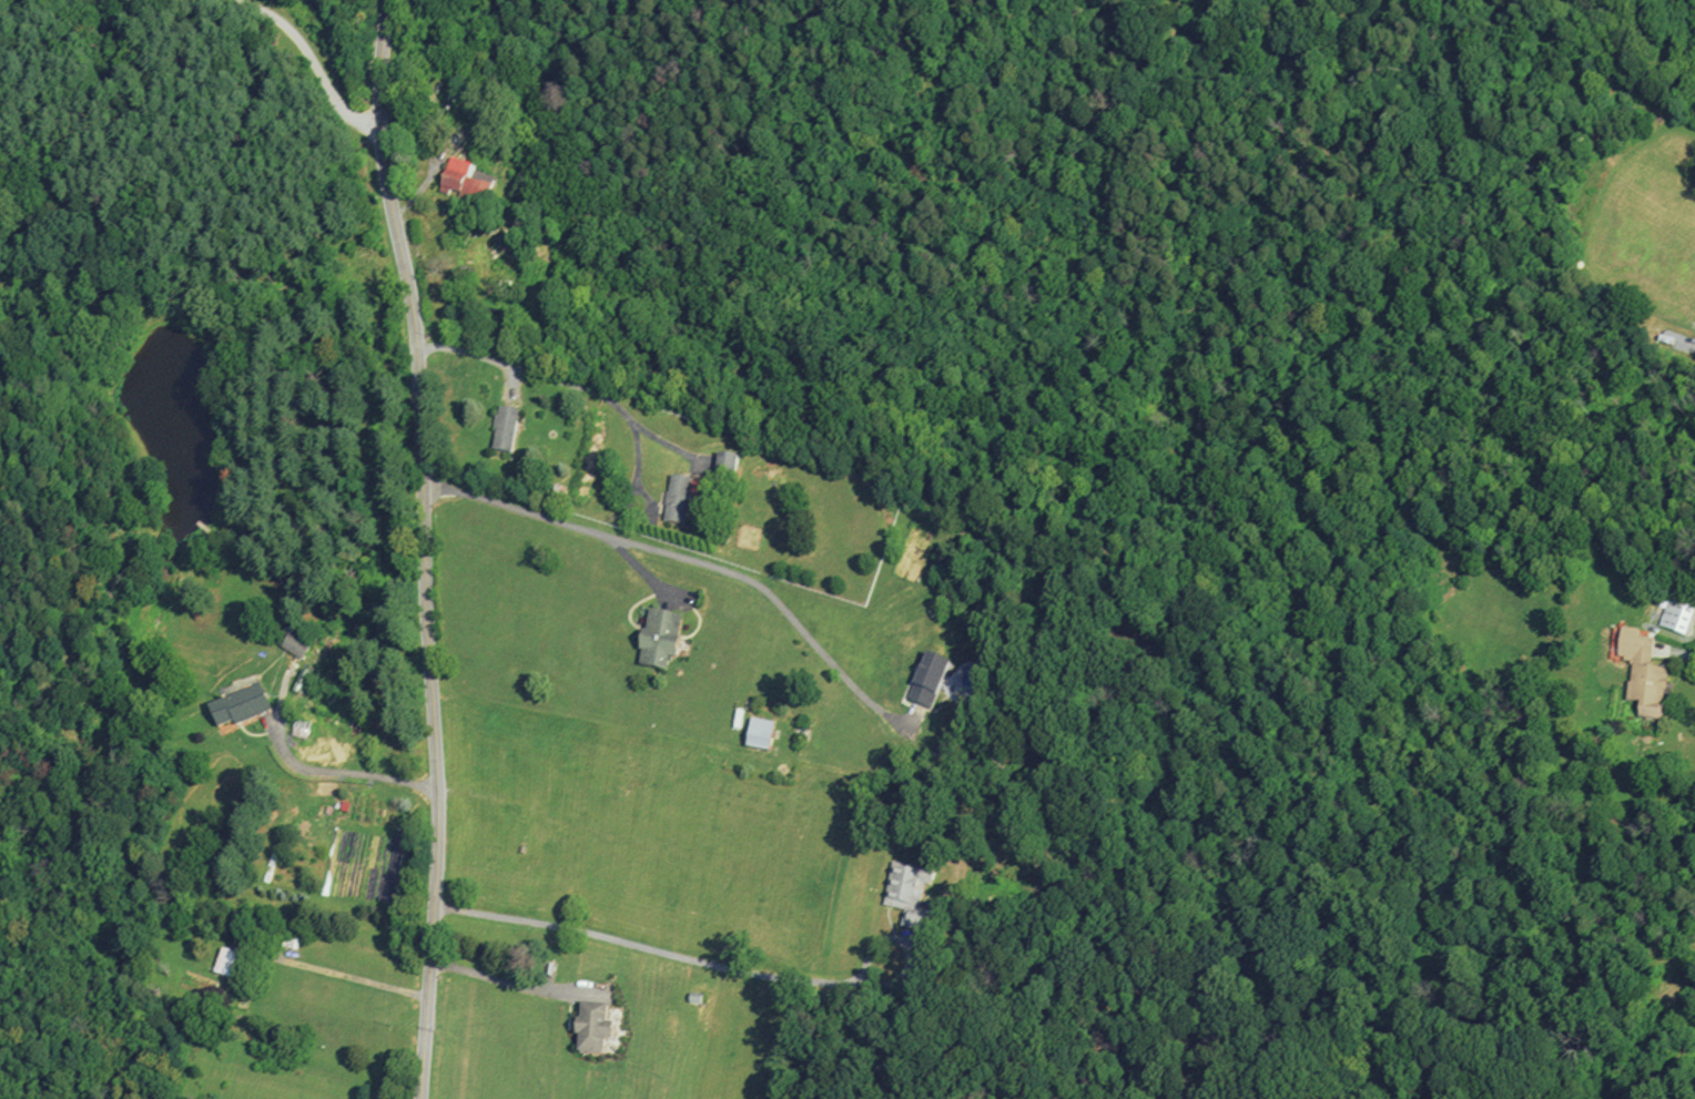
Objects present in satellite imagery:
road: (311, 59)
building: (465, 186)
building: (1665, 339)
road: (522, 369)
building: (503, 427)
building: (724, 462)
building: (677, 496)
road: (423, 548)
road: (691, 562)
road: (637, 567)
building: (1678, 612)
building: (650, 637)
building: (297, 642)
building: (286, 644)
road: (1683, 654)
building: (1643, 671)
building: (928, 679)
building: (241, 703)
building: (758, 733)
road: (339, 773)
building: (909, 892)
building: (278, 925)
road: (895, 938)
building: (291, 943)
building: (281, 945)
road: (663, 953)
building: (226, 961)
road: (346, 976)
road: (512, 984)
building: (590, 1027)

